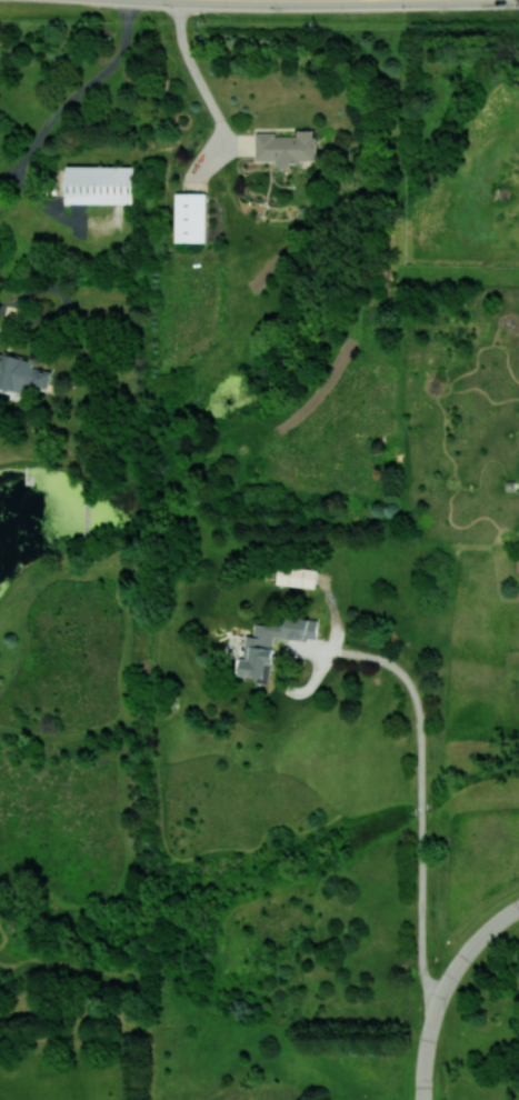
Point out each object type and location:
road: (203, 87)
road: (78, 97)
building: (286, 147)
building: (100, 184)
building: (190, 217)
road: (461, 274)
road: (24, 308)
building: (21, 374)
building: (297, 576)
building: (271, 644)
road: (423, 780)
road: (458, 963)
road: (426, 1069)

